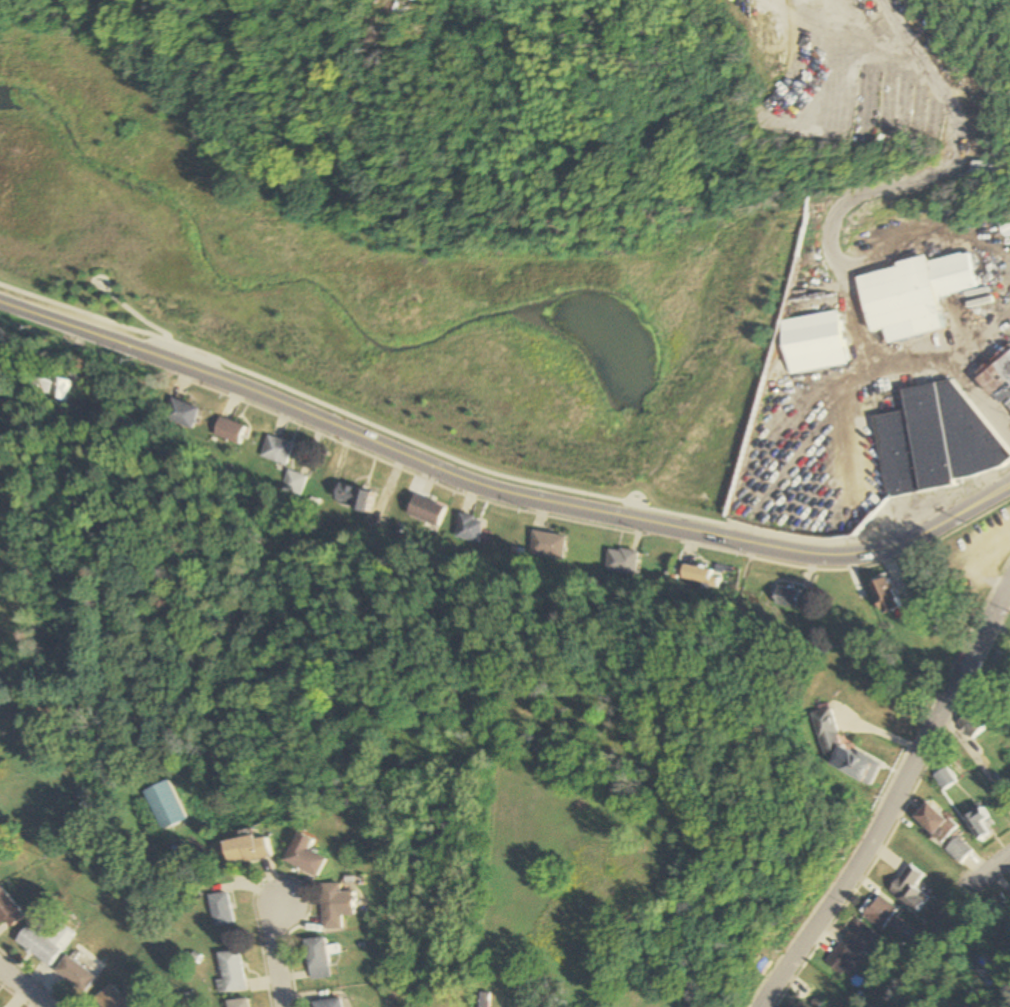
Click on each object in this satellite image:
road: (854, 210)
building: (1003, 225)
building: (912, 294)
park: (409, 306)
road: (139, 317)
building: (812, 342)
road: (174, 361)
building: (998, 380)
building: (53, 386)
building: (181, 413)
road: (361, 426)
building: (228, 430)
building: (934, 440)
building: (276, 450)
building: (293, 483)
road: (498, 493)
building: (351, 496)
building: (424, 510)
road: (530, 516)
building: (468, 528)
building: (548, 545)
building: (622, 562)
building: (702, 575)
building: (883, 595)
building: (788, 598)
building: (972, 722)
road: (882, 736)
building: (840, 750)
road: (976, 760)
building: (944, 778)
road: (893, 800)
building: (164, 805)
building: (930, 819)
building: (251, 849)
building: (958, 850)
building: (306, 856)
building: (909, 888)
building: (335, 905)
building: (997, 905)
building: (7, 909)
building: (224, 909)
building: (879, 911)
road: (939, 928)
building: (65, 933)
building: (857, 936)
building: (39, 945)
road: (278, 953)
building: (317, 958)
building: (839, 959)
building: (985, 966)
building: (231, 973)
building: (75, 974)
road: (24, 987)
building: (111, 998)
building: (238, 1003)
building: (328, 1003)
building: (792, 1006)

